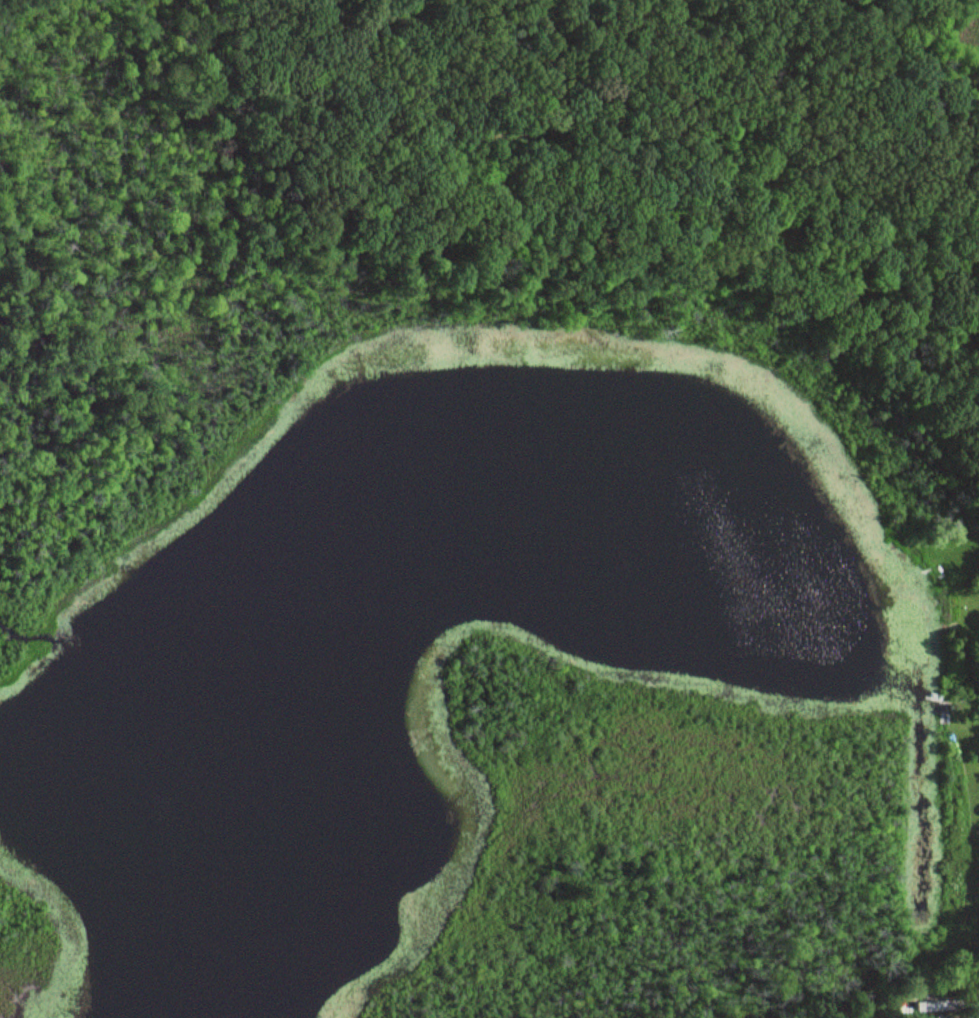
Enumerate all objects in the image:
building: (937, 1006)

